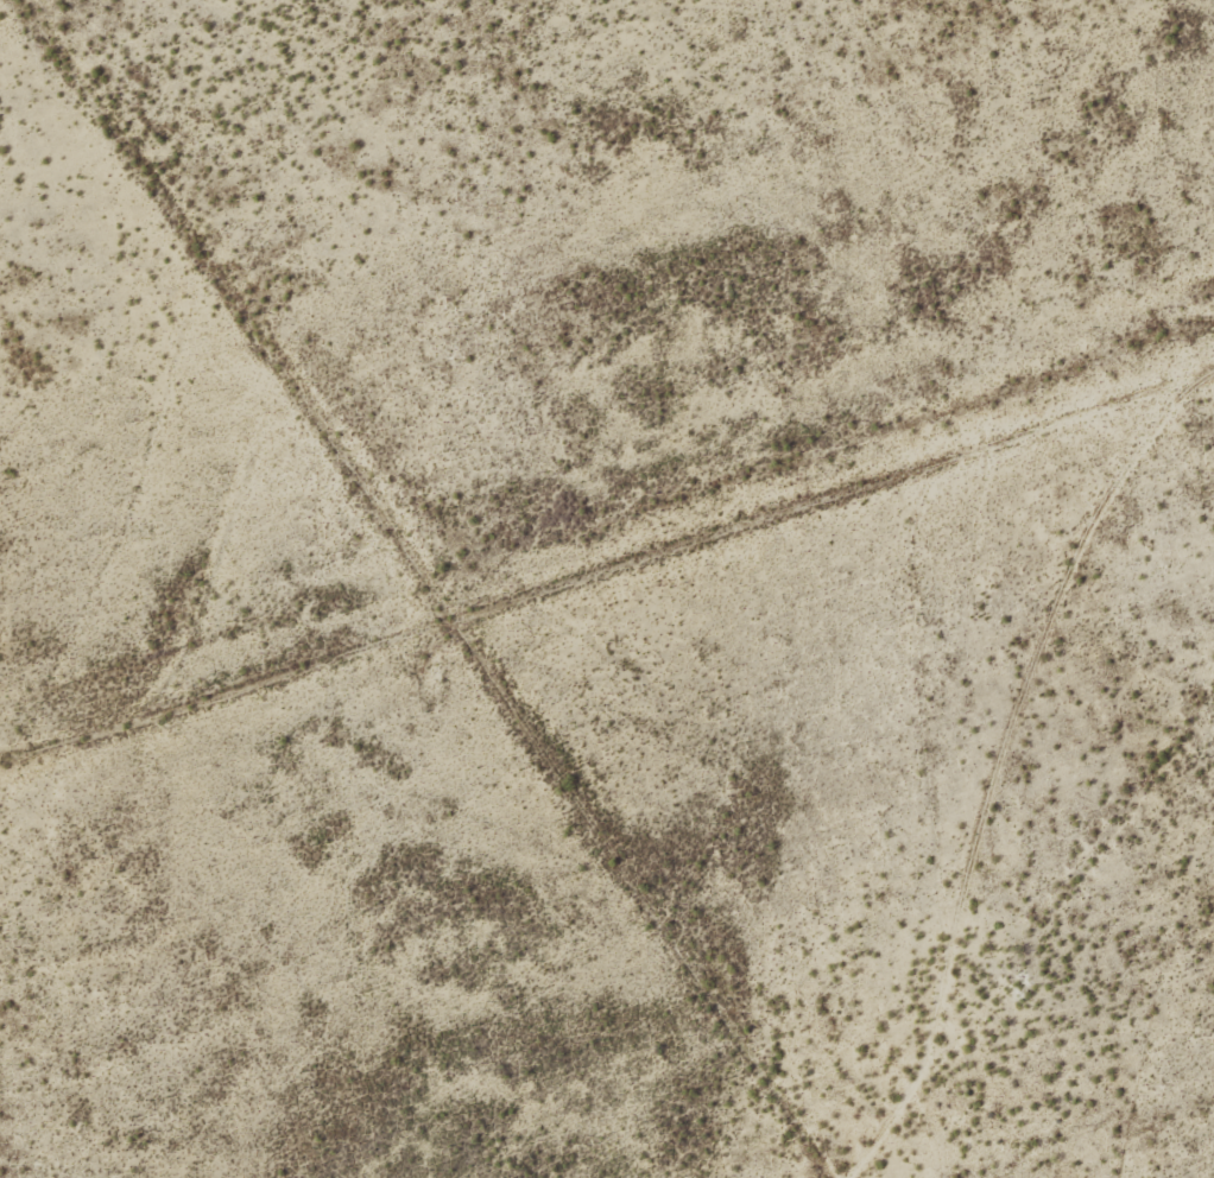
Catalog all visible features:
road: (249, 305)
road: (609, 576)

